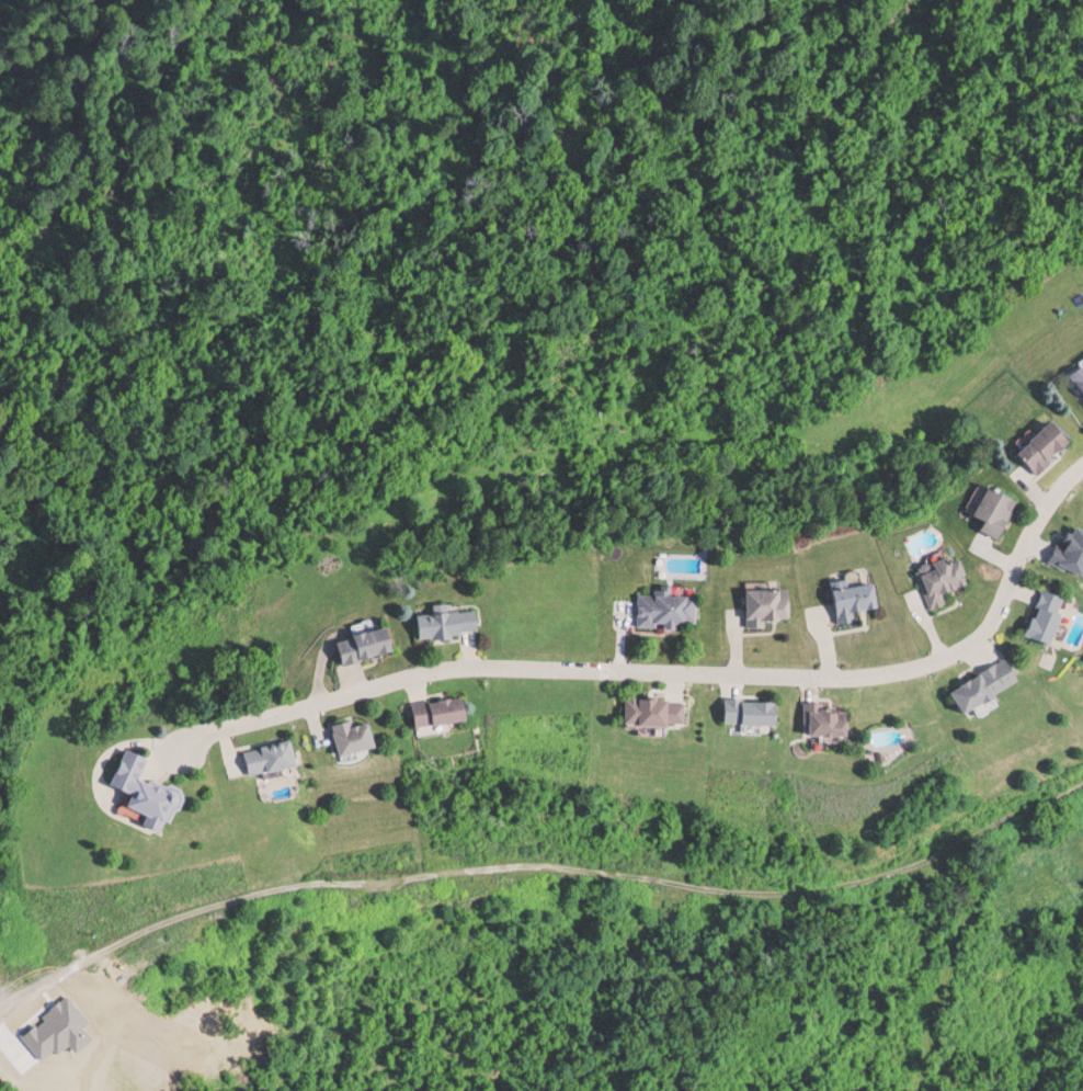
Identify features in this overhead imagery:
building: (1080, 376)
building: (1048, 446)
building: (999, 510)
building: (944, 579)
building: (856, 600)
building: (768, 604)
building: (669, 606)
building: (1053, 615)
building: (452, 621)
building: (369, 643)
road: (680, 671)
building: (993, 684)
building: (660, 709)
building: (444, 711)
building: (755, 711)
building: (831, 720)
building: (360, 736)
building: (276, 757)
building: (150, 791)
road: (540, 865)
road: (1, 1008)

